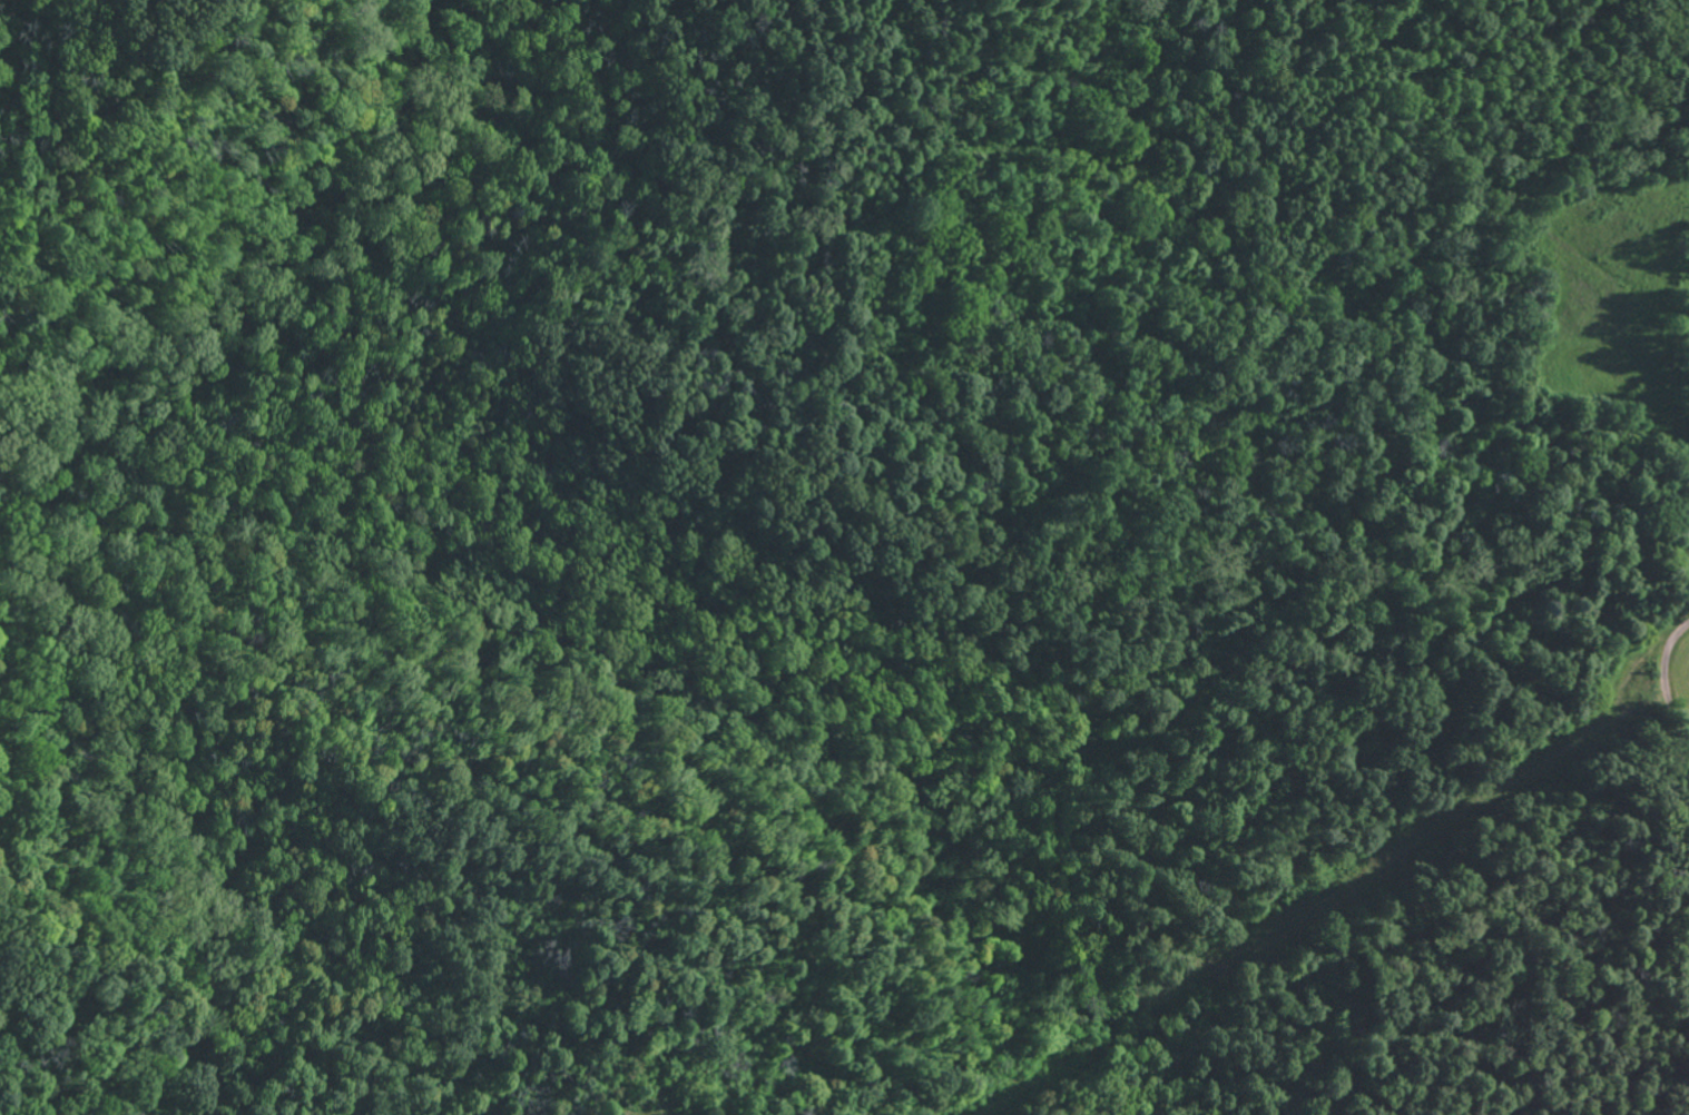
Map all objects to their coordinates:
road: (1544, 437)
building: (1686, 527)
road: (1667, 704)

